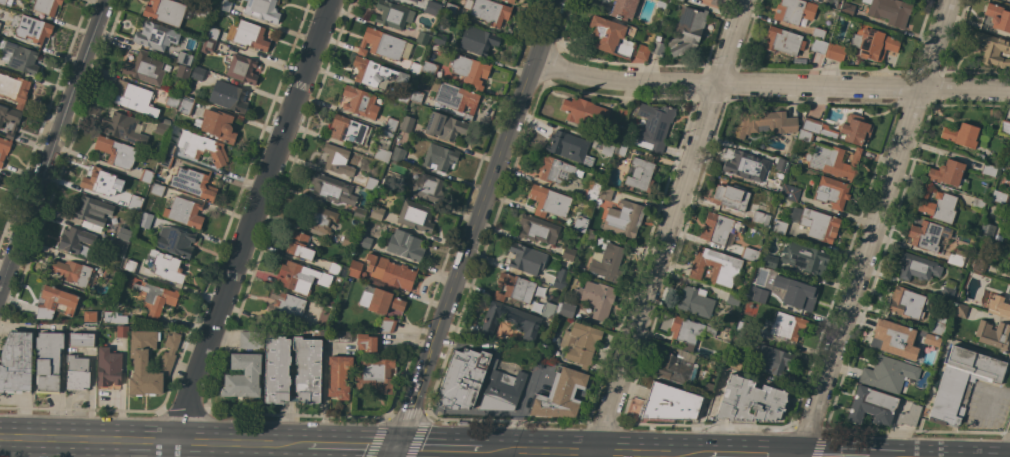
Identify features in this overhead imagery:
building: (414, 0)
building: (680, 0)
building: (509, 1)
building: (6, 2)
building: (831, 3)
building: (661, 4)
building: (224, 5)
building: (46, 6)
building: (432, 8)
building: (451, 9)
building: (624, 9)
building: (204, 10)
building: (262, 10)
building: (847, 10)
building: (165, 11)
building: (794, 11)
building: (890, 11)
building: (489, 12)
building: (393, 14)
building: (998, 17)
building: (0, 23)
building: (33, 29)
building: (687, 31)
building: (212, 33)
building: (818, 33)
building: (250, 35)
building: (422, 35)
building: (611, 35)
building: (153, 36)
building: (440, 39)
building: (477, 41)
building: (784, 41)
building: (875, 43)
building: (381, 44)
building: (208, 45)
building: (659, 45)
building: (819, 46)
building: (436, 47)
building: (990, 48)
building: (643, 52)
building: (834, 52)
building: (21, 58)
building: (183, 58)
building: (145, 68)
building: (414, 68)
building: (429, 68)
building: (242, 69)
building: (182, 71)
building: (471, 71)
building: (376, 73)
building: (197, 74)
road: (772, 86)
building: (14, 89)
building: (188, 92)
building: (417, 95)
building: (133, 96)
building: (228, 96)
building: (403, 96)
building: (455, 98)
building: (173, 100)
building: (360, 102)
building: (186, 105)
building: (584, 113)
building: (621, 114)
building: (9, 119)
building: (166, 121)
building: (764, 122)
building: (217, 124)
building: (390, 124)
building: (408, 124)
building: (445, 126)
building: (818, 127)
building: (1004, 127)
building: (123, 128)
building: (161, 128)
building: (655, 128)
building: (855, 129)
building: (349, 130)
building: (387, 133)
building: (805, 136)
building: (965, 136)
road: (52, 145)
building: (202, 147)
building: (569, 147)
building: (4, 148)
building: (169, 149)
building: (621, 149)
building: (607, 150)
building: (116, 152)
building: (382, 154)
building: (398, 154)
building: (439, 157)
building: (339, 160)
building: (832, 160)
building: (1007, 162)
building: (782, 164)
building: (741, 165)
building: (554, 169)
building: (988, 170)
building: (948, 173)
building: (640, 175)
building: (146, 176)
building: (100, 181)
building: (193, 183)
building: (370, 183)
building: (388, 183)
building: (429, 188)
road: (491, 188)
building: (157, 189)
building: (331, 190)
building: (592, 191)
building: (605, 192)
building: (790, 192)
building: (832, 192)
building: (730, 197)
building: (1000, 197)
building: (548, 201)
building: (130, 203)
building: (937, 204)
building: (977, 204)
building: (92, 210)
building: (183, 211)
building: (359, 213)
building: (377, 213)
building: (416, 215)
building: (759, 216)
building: (624, 218)
building: (145, 219)
building: (323, 219)
building: (1009, 219)
building: (816, 223)
building: (580, 224)
building: (780, 227)
road: (247, 228)
road: (667, 228)
building: (718, 228)
road: (873, 228)
building: (538, 229)
building: (988, 230)
building: (124, 233)
building: (590, 235)
building: (929, 236)
building: (366, 238)
building: (75, 239)
building: (348, 240)
building: (175, 241)
building: (404, 245)
building: (118, 246)
building: (299, 246)
building: (569, 253)
building: (750, 254)
building: (806, 258)
building: (957, 258)
building: (526, 259)
building: (768, 260)
building: (607, 262)
building: (130, 265)
building: (979, 265)
building: (166, 266)
building: (716, 267)
building: (917, 267)
building: (334, 268)
building: (1009, 268)
building: (356, 269)
building: (72, 272)
building: (389, 273)
building: (109, 274)
building: (300, 277)
building: (560, 279)
building: (514, 288)
building: (947, 290)
building: (796, 294)
building: (758, 295)
building: (155, 297)
building: (596, 298)
building: (536, 299)
building: (733, 299)
building: (380, 300)
building: (56, 301)
building: (695, 301)
building: (328, 302)
building: (906, 303)
building: (999, 307)
building: (282, 309)
building: (566, 309)
building: (549, 310)
building: (960, 310)
building: (92, 316)
building: (115, 317)
building: (523, 320)
building: (937, 323)
building: (387, 325)
building: (788, 326)
building: (744, 327)
building: (122, 331)
building: (689, 331)
building: (994, 335)
building: (338, 336)
building: (895, 337)
building: (251, 339)
building: (81, 340)
building: (368, 343)
building: (580, 343)
building: (548, 349)
building: (773, 360)
building: (150, 361)
building: (16, 362)
building: (48, 362)
building: (736, 362)
building: (541, 364)
building: (109, 367)
building: (677, 368)
building: (309, 370)
building: (77, 372)
building: (888, 374)
building: (243, 376)
building: (339, 376)
building: (374, 376)
building: (463, 379)
building: (962, 383)
building: (708, 388)
building: (502, 391)
building: (560, 395)
road: (987, 400)
building: (749, 401)
building: (670, 403)
building: (871, 406)
road: (408, 412)
building: (909, 415)
road: (153, 441)
road: (351, 447)
traffic signals: (395, 448)
road: (437, 449)
road: (393, 452)
road: (639, 453)

